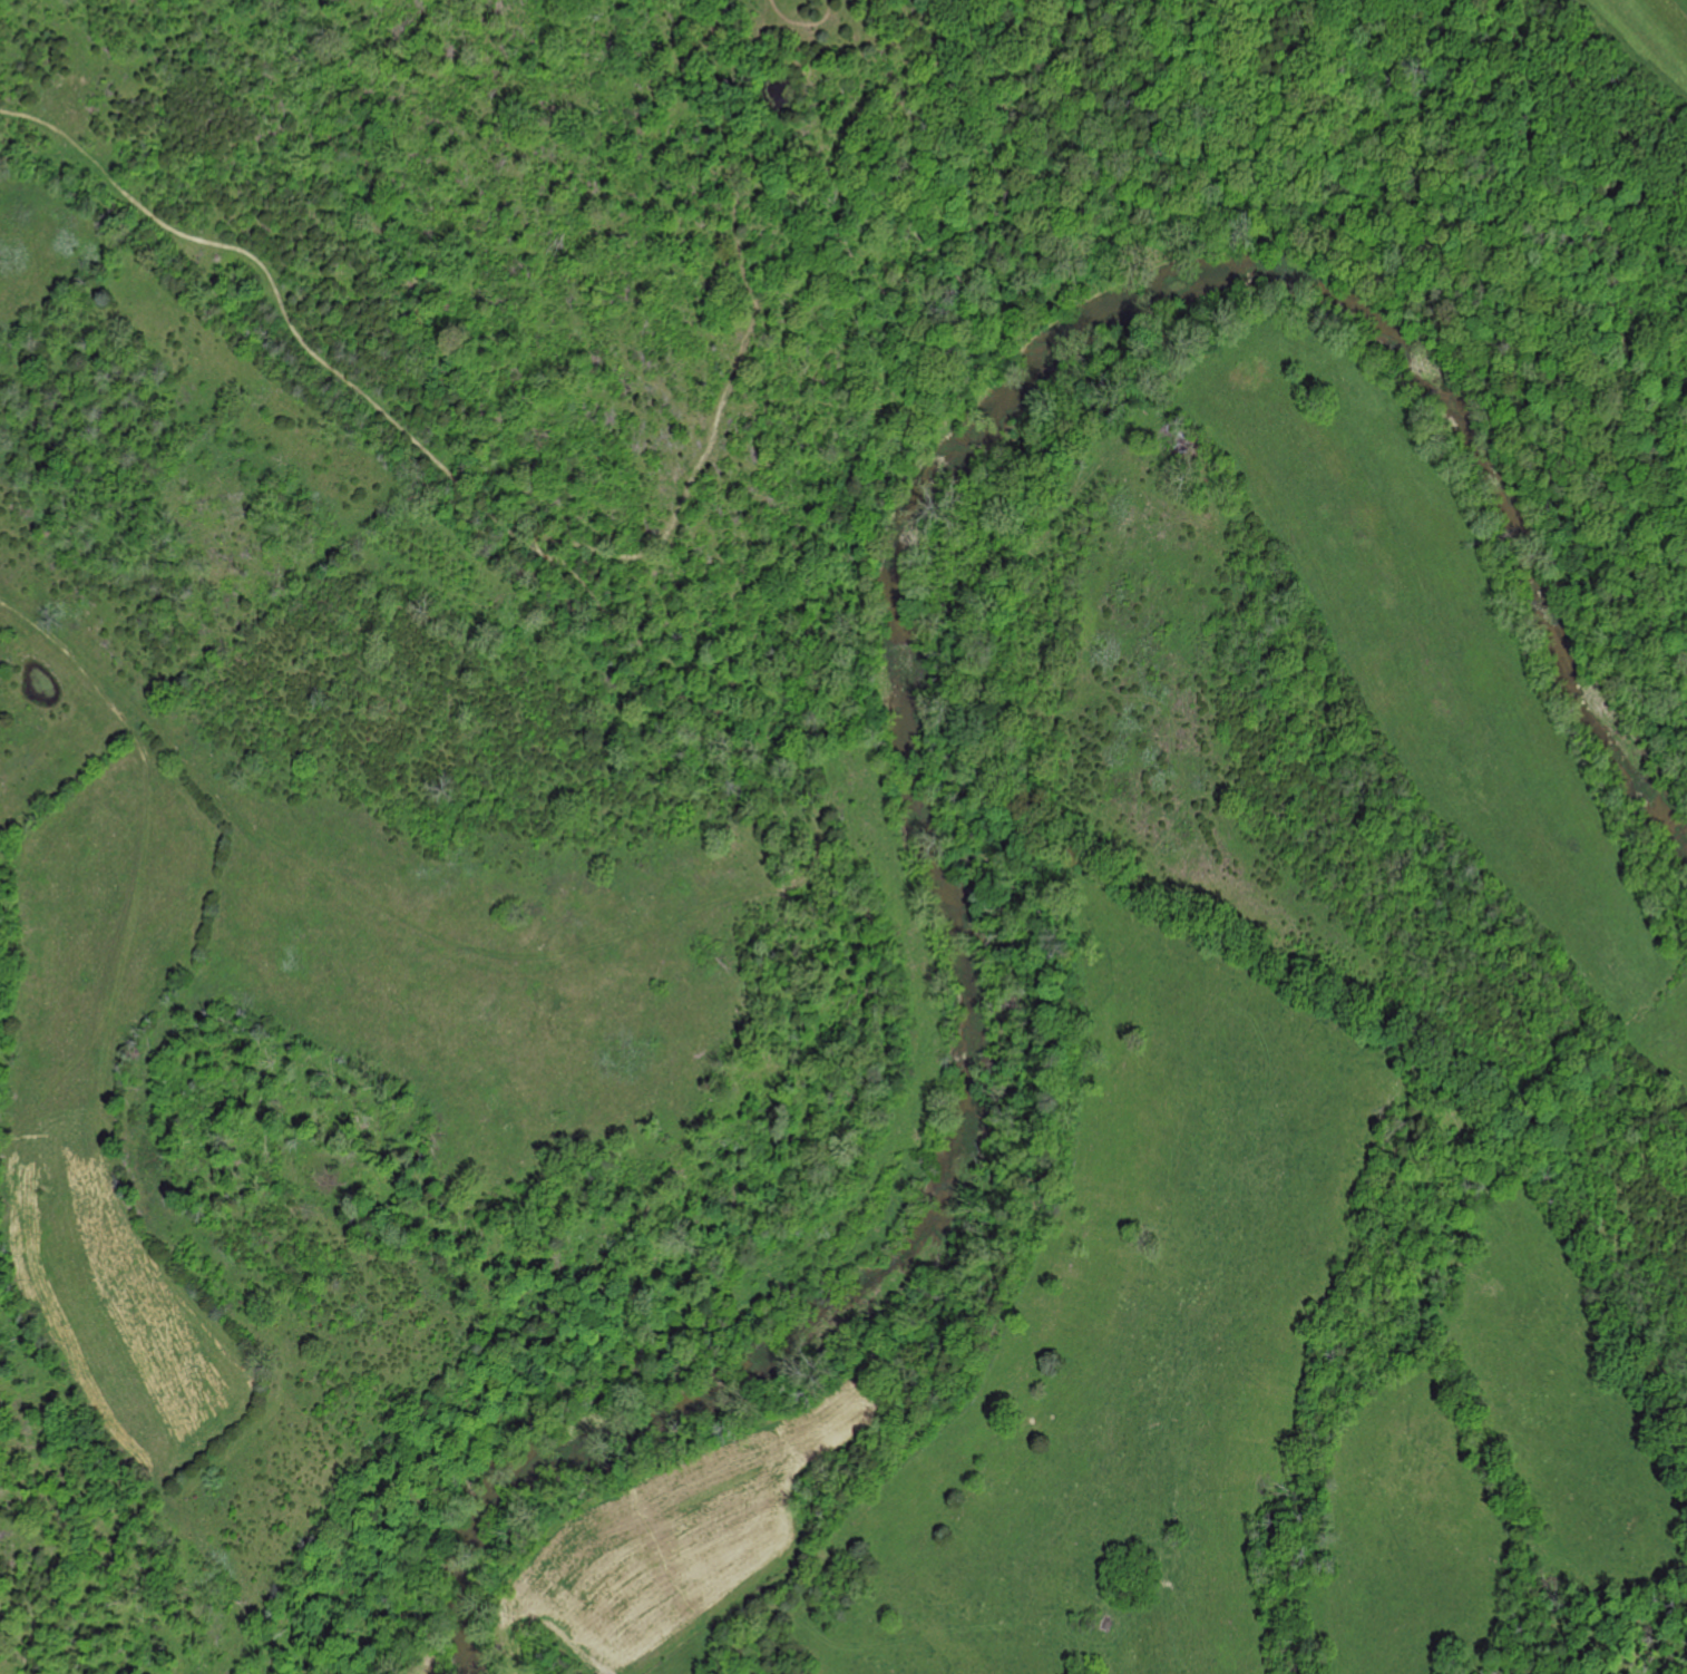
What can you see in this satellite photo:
road: (1675, 16)
road: (399, 496)

